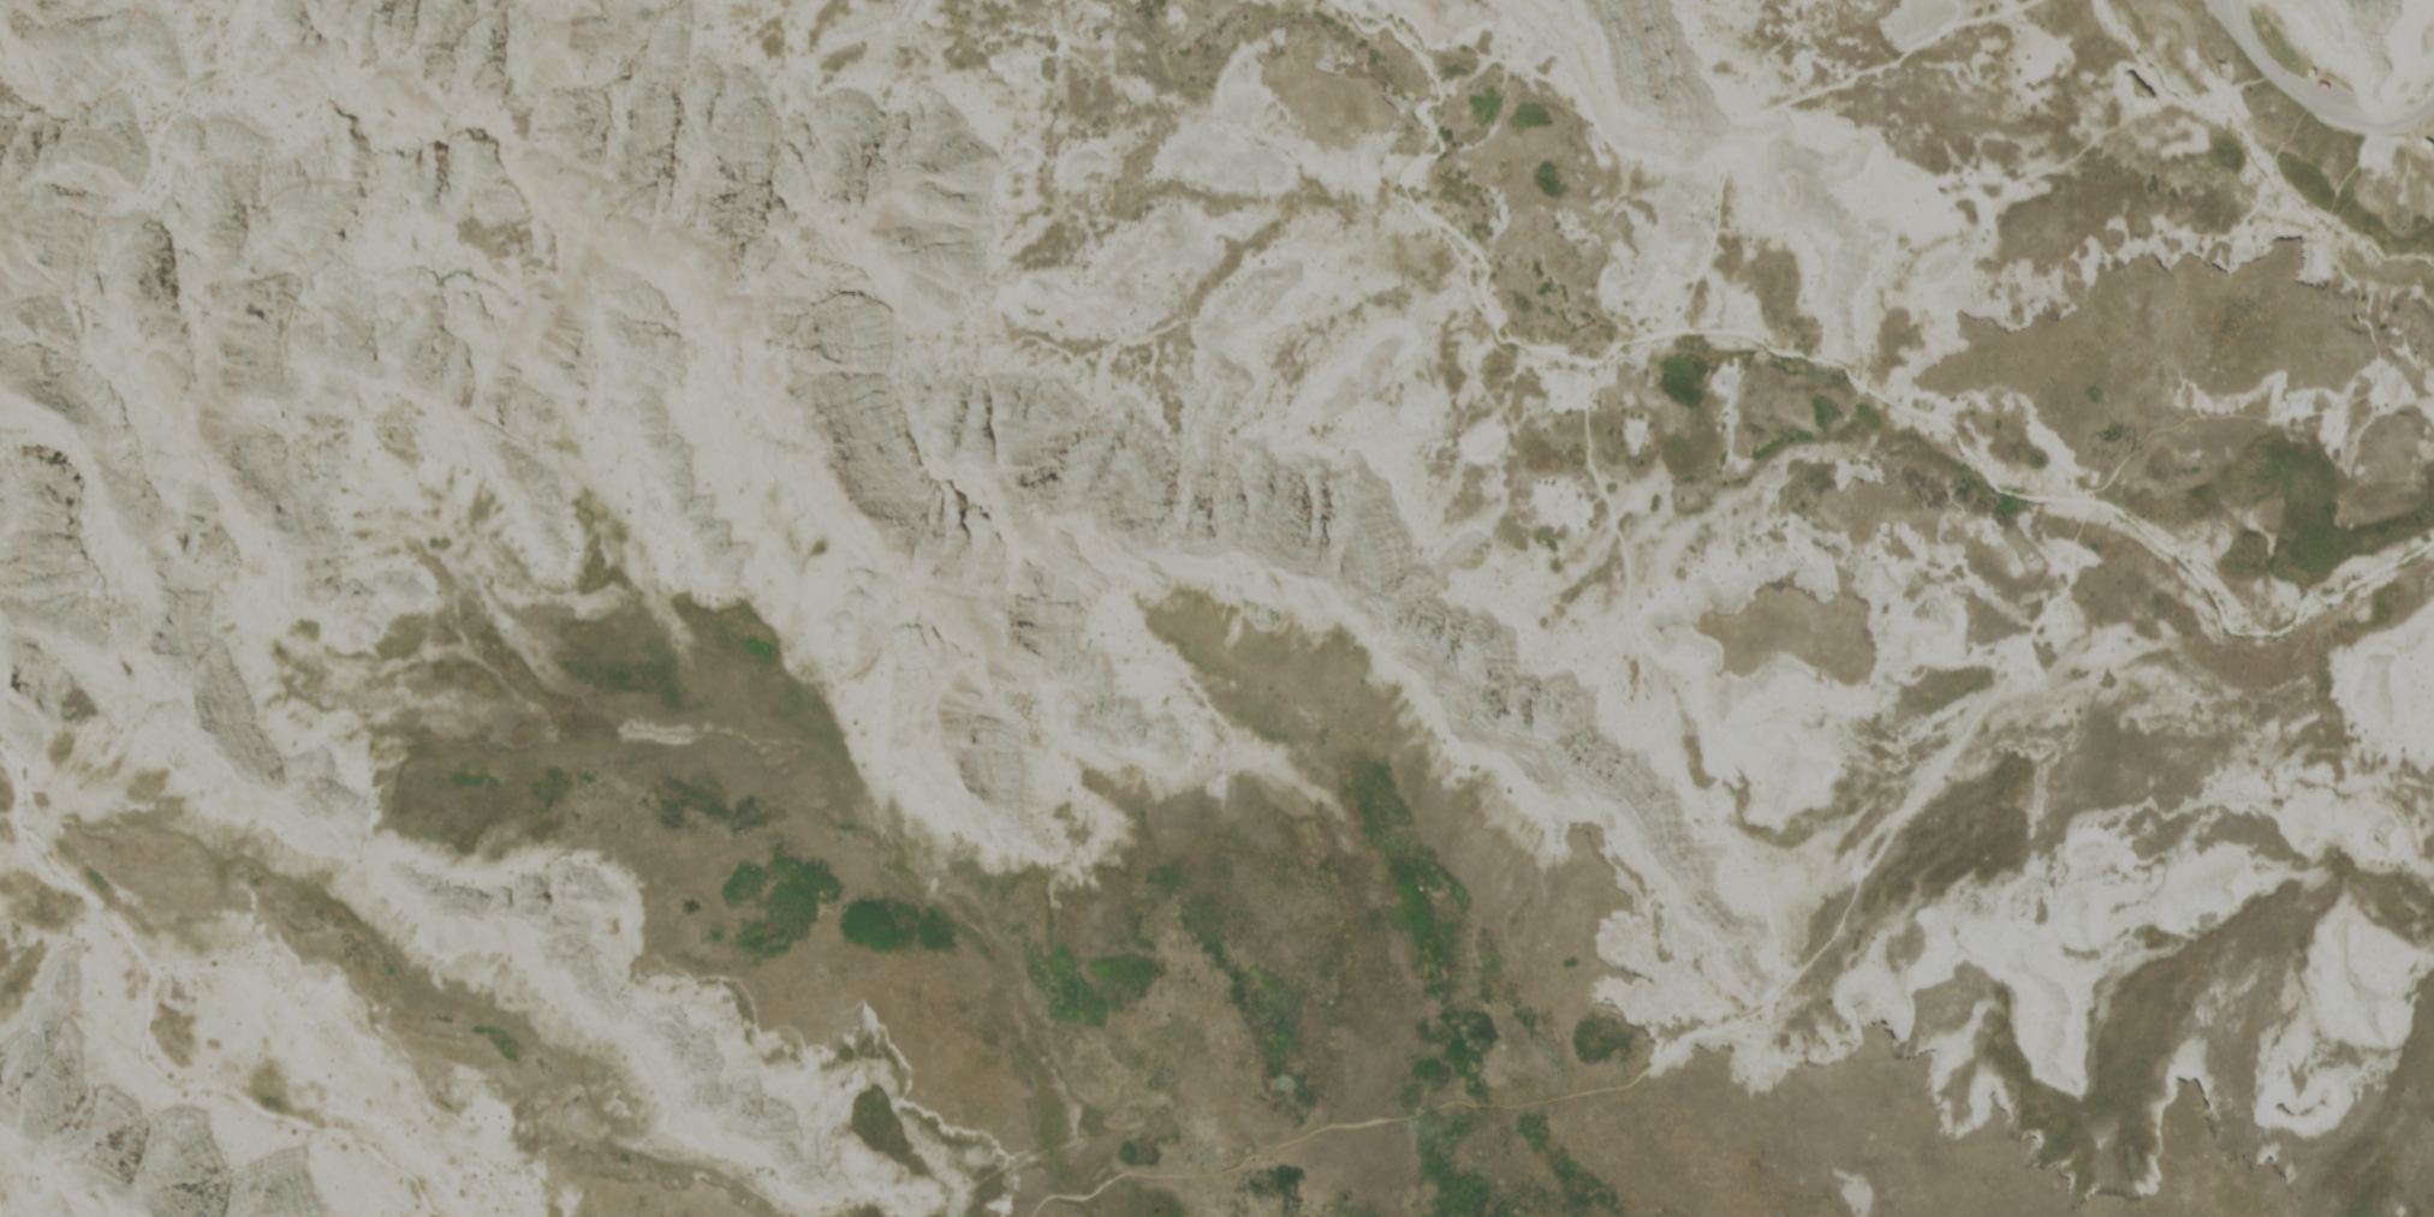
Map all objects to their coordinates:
road: (2313, 101)

